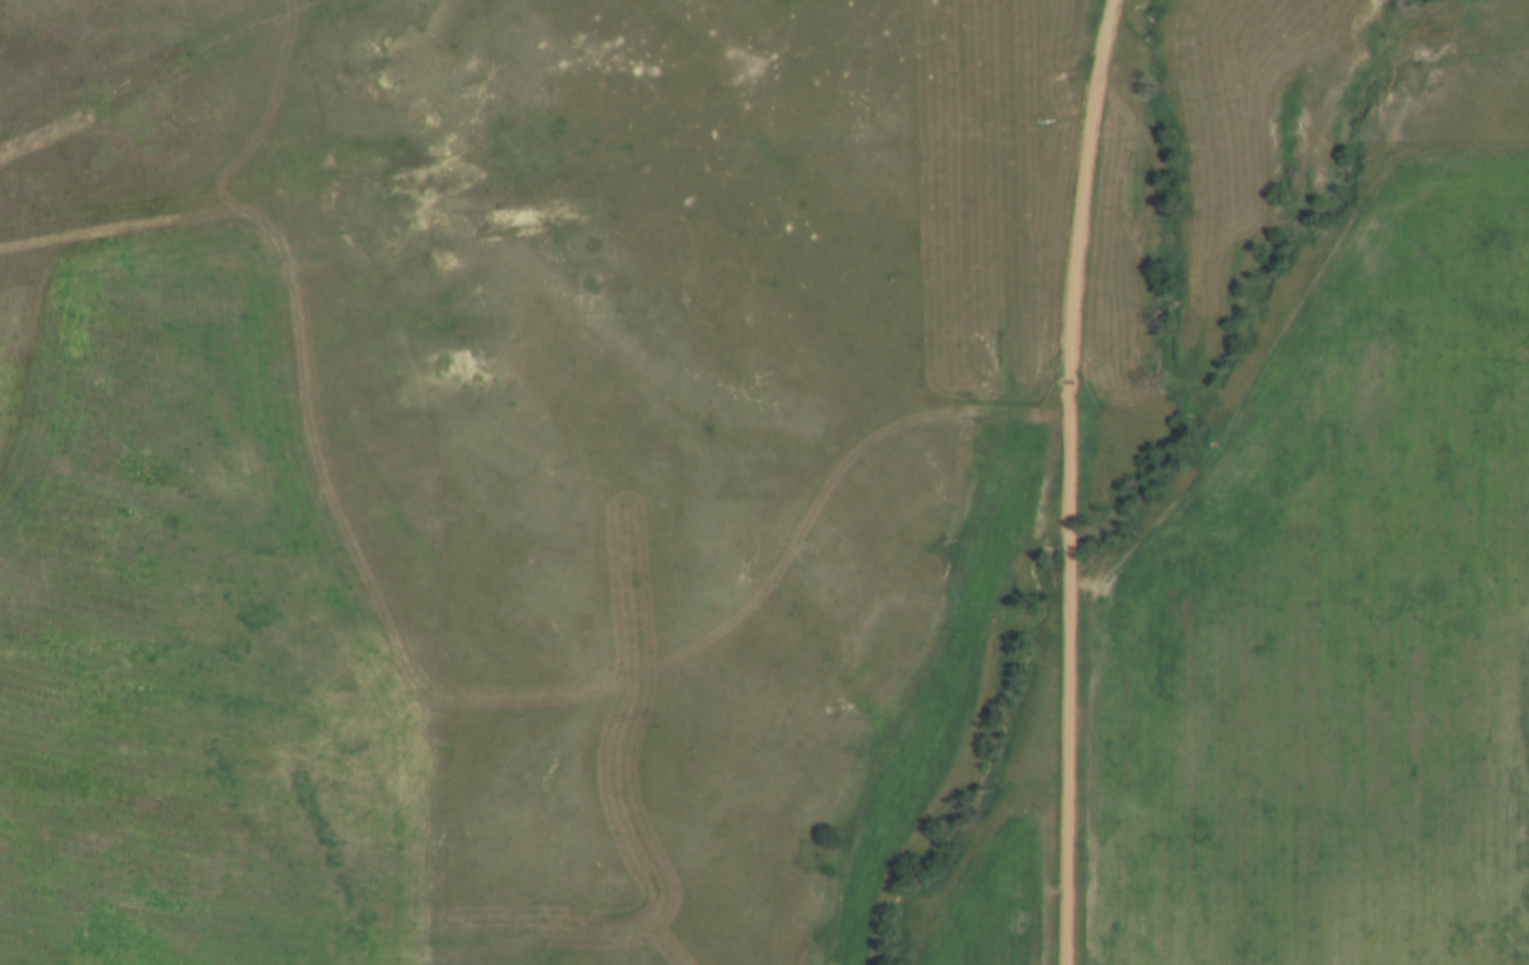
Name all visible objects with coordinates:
road: (1069, 481)

